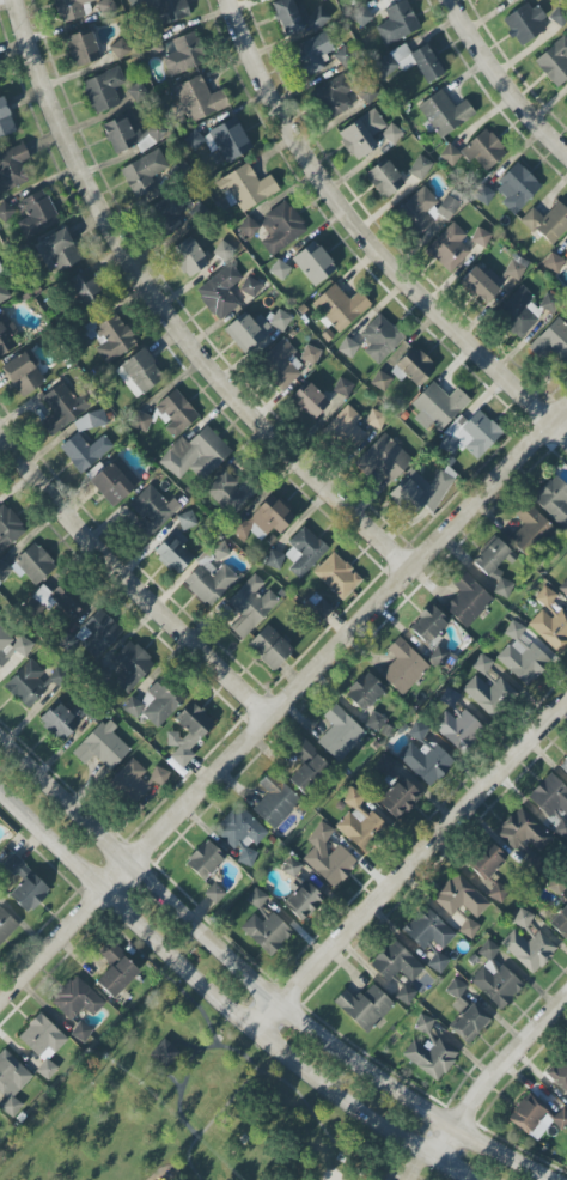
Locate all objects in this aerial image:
building: (493, 0)
building: (71, 8)
building: (165, 11)
building: (297, 17)
building: (397, 23)
building: (525, 24)
building: (83, 48)
building: (120, 49)
building: (312, 54)
building: (411, 61)
building: (554, 62)
road: (501, 81)
building: (103, 90)
building: (333, 97)
building: (200, 99)
building: (566, 101)
building: (445, 112)
building: (5, 120)
building: (130, 134)
building: (361, 134)
building: (391, 134)
building: (194, 140)
building: (230, 140)
building: (483, 150)
building: (451, 154)
building: (12, 168)
building: (420, 168)
building: (142, 174)
building: (384, 178)
building: (245, 188)
building: (517, 188)
building: (481, 193)
building: (5, 209)
building: (423, 211)
building: (37, 214)
building: (166, 215)
building: (548, 223)
building: (281, 227)
building: (480, 237)
road: (366, 239)
building: (449, 248)
building: (59, 250)
building: (563, 254)
building: (189, 257)
building: (313, 263)
building: (279, 270)
building: (490, 280)
building: (250, 287)
building: (86, 290)
building: (4, 292)
building: (220, 292)
building: (549, 303)
building: (340, 306)
building: (518, 312)
road: (165, 315)
building: (280, 321)
building: (248, 332)
building: (5, 334)
building: (109, 337)
building: (380, 339)
building: (550, 341)
building: (348, 347)
building: (310, 354)
building: (279, 365)
building: (413, 367)
building: (24, 373)
building: (139, 373)
building: (380, 381)
building: (342, 387)
building: (309, 401)
building: (438, 406)
building: (61, 408)
building: (90, 421)
building: (141, 421)
building: (345, 430)
building: (470, 436)
building: (84, 451)
building: (196, 455)
building: (383, 458)
building: (114, 481)
building: (228, 492)
building: (420, 492)
building: (554, 500)
building: (152, 511)
building: (264, 519)
building: (8, 528)
building: (529, 529)
building: (219, 552)
building: (304, 552)
building: (172, 554)
building: (275, 559)
building: (32, 565)
building: (494, 566)
building: (566, 566)
building: (4, 571)
building: (337, 576)
road: (126, 580)
building: (209, 583)
building: (563, 588)
building: (67, 598)
building: (468, 600)
building: (249, 606)
building: (550, 621)
building: (431, 626)
building: (99, 632)
building: (12, 647)
building: (270, 647)
building: (522, 656)
building: (481, 664)
building: (130, 665)
building: (403, 667)
building: (365, 692)
building: (488, 694)
building: (160, 702)
road: (279, 702)
building: (133, 707)
building: (59, 720)
building: (376, 722)
building: (457, 729)
building: (188, 734)
building: (340, 734)
building: (103, 747)
building: (425, 756)
building: (385, 765)
building: (306, 766)
building: (565, 770)
building: (136, 781)
building: (398, 797)
building: (353, 798)
building: (275, 802)
building: (553, 802)
building: (360, 828)
building: (240, 834)
building: (321, 834)
building: (524, 837)
building: (205, 860)
building: (330, 864)
building: (292, 868)
road: (411, 869)
building: (489, 870)
building: (25, 884)
building: (256, 898)
building: (303, 901)
building: (462, 904)
building: (522, 919)
building: (560, 923)
building: (6, 924)
building: (427, 929)
building: (529, 949)
building: (438, 962)
building: (396, 965)
building: (116, 971)
road: (161, 971)
building: (495, 978)
road: (258, 984)
building: (456, 989)
building: (406, 995)
building: (77, 999)
road: (222, 1003)
building: (364, 1008)
building: (468, 1021)
building: (423, 1023)
building: (81, 1032)
road: (184, 1042)
building: (43, 1044)
building: (164, 1053)
building: (431, 1058)
road: (189, 1060)
building: (560, 1073)
road: (167, 1076)
road: (275, 1077)
road: (495, 1077)
building: (11, 1082)
building: (528, 1114)
park: (197, 1115)
building: (560, 1119)
road: (416, 1166)
parking lot: (395, 1176)

